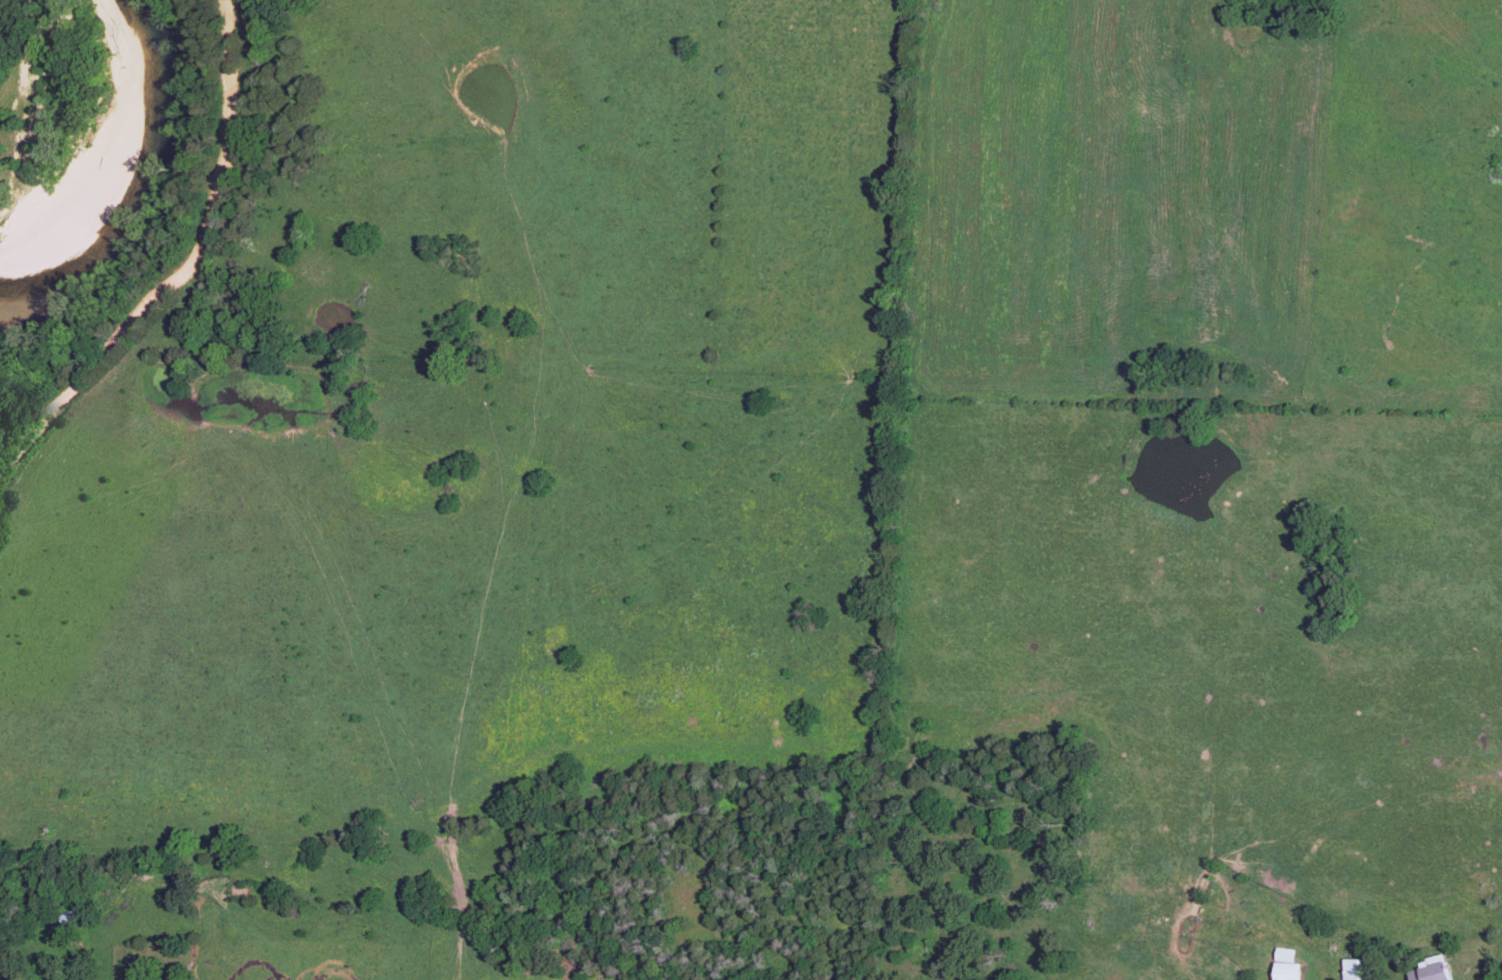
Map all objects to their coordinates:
river: (125, 177)
road: (194, 280)
building: (1289, 965)
building: (1359, 969)
building: (1435, 970)

